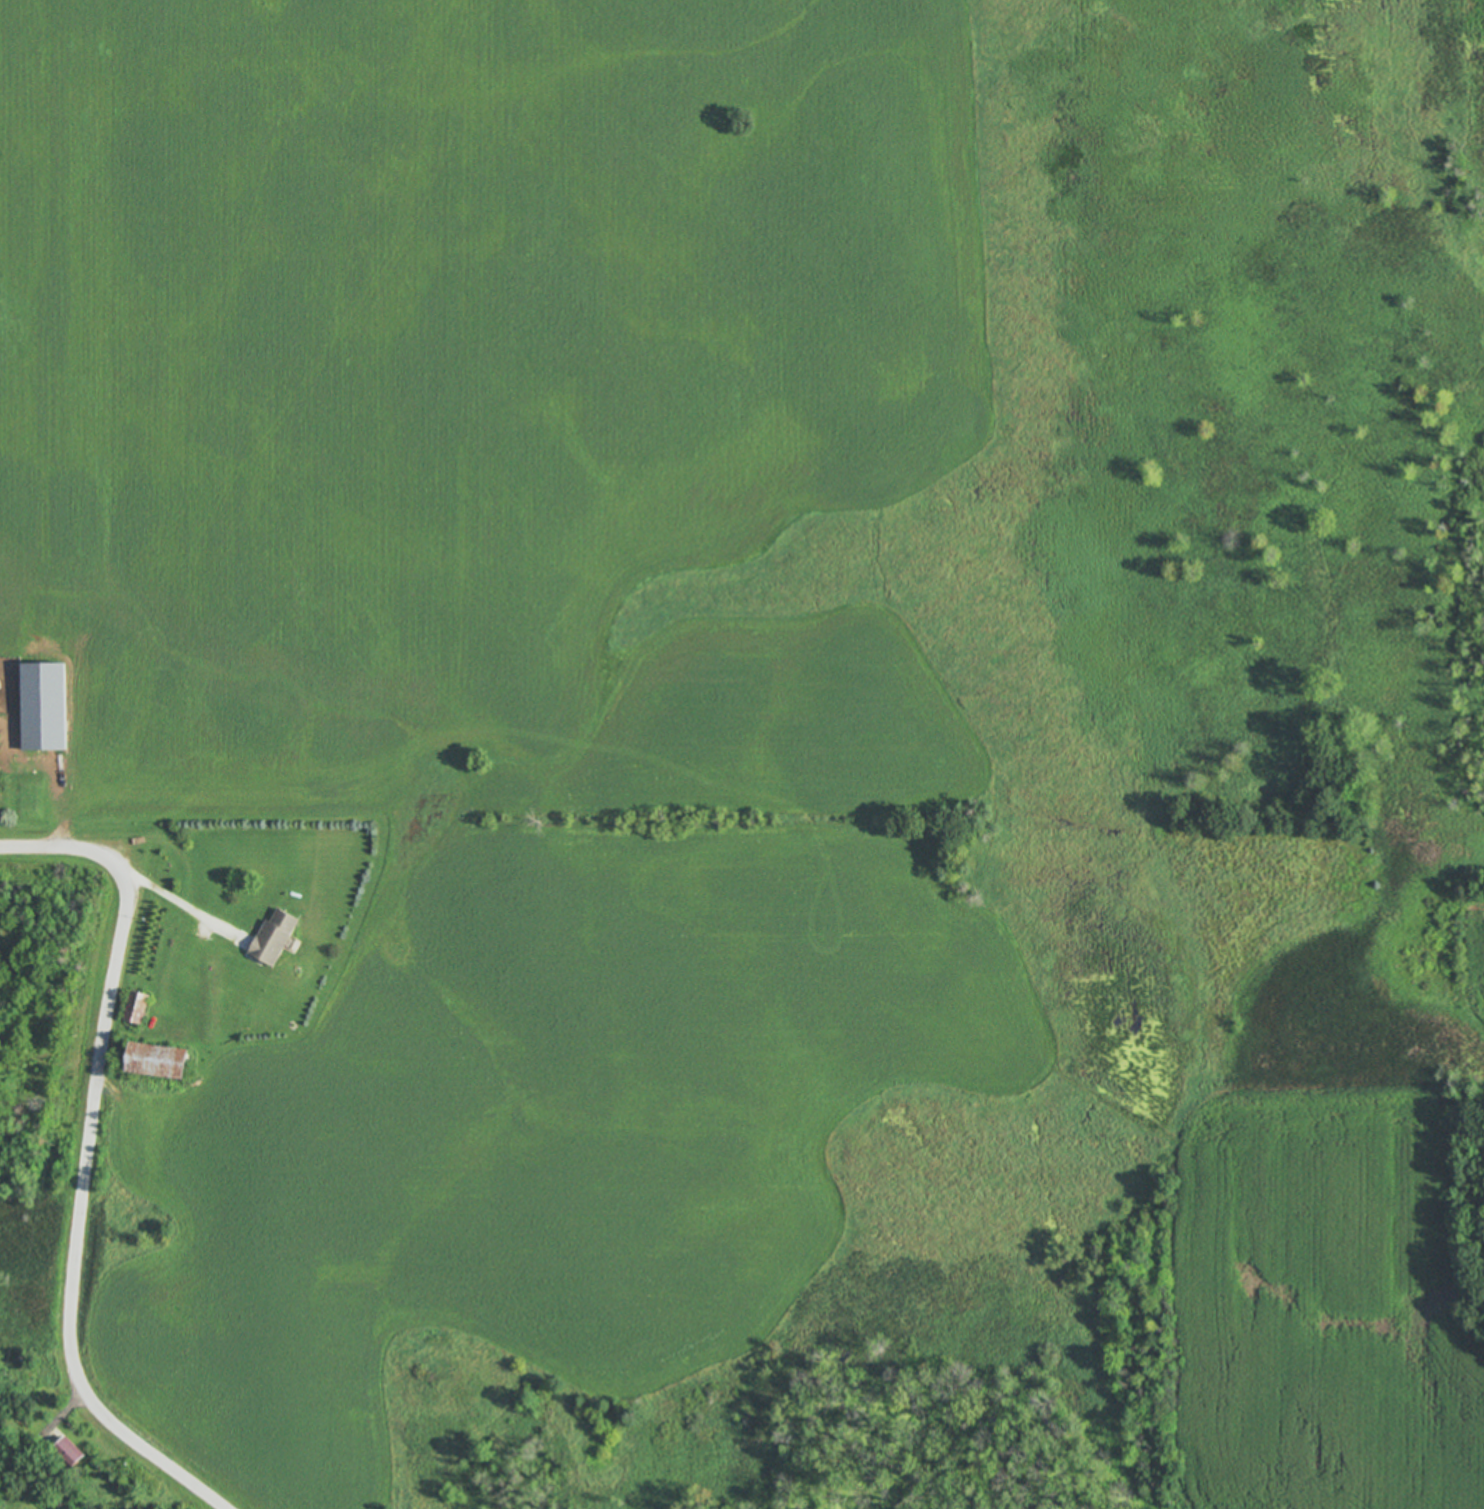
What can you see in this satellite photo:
building: (42, 707)
road: (176, 898)
building: (274, 938)
building: (136, 1008)
building: (156, 1062)
road: (86, 1158)
road: (35, 1445)
building: (68, 1453)

